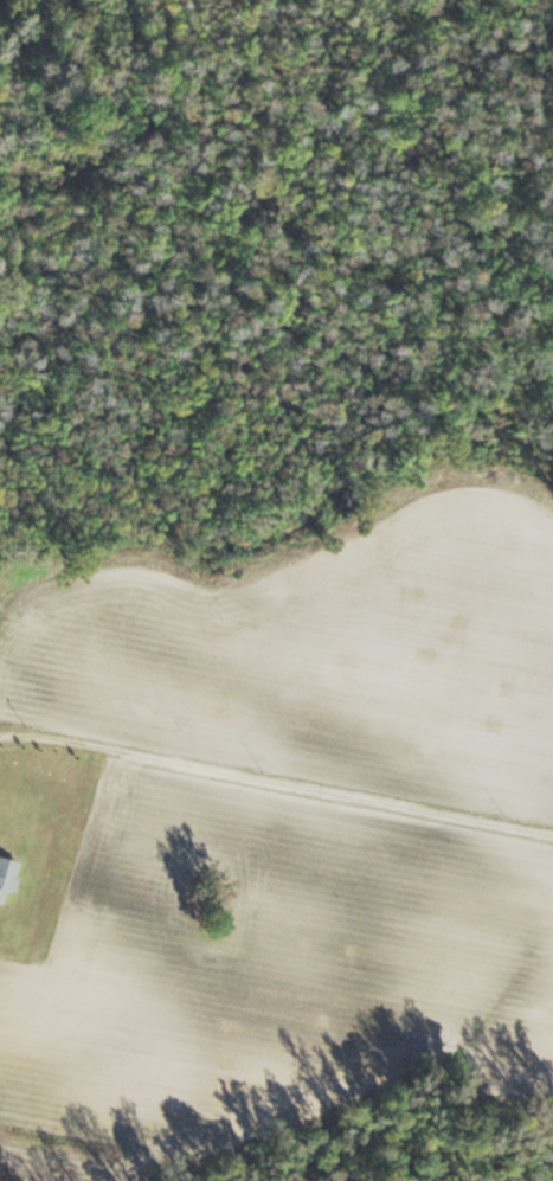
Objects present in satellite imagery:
building: (6, 879)

